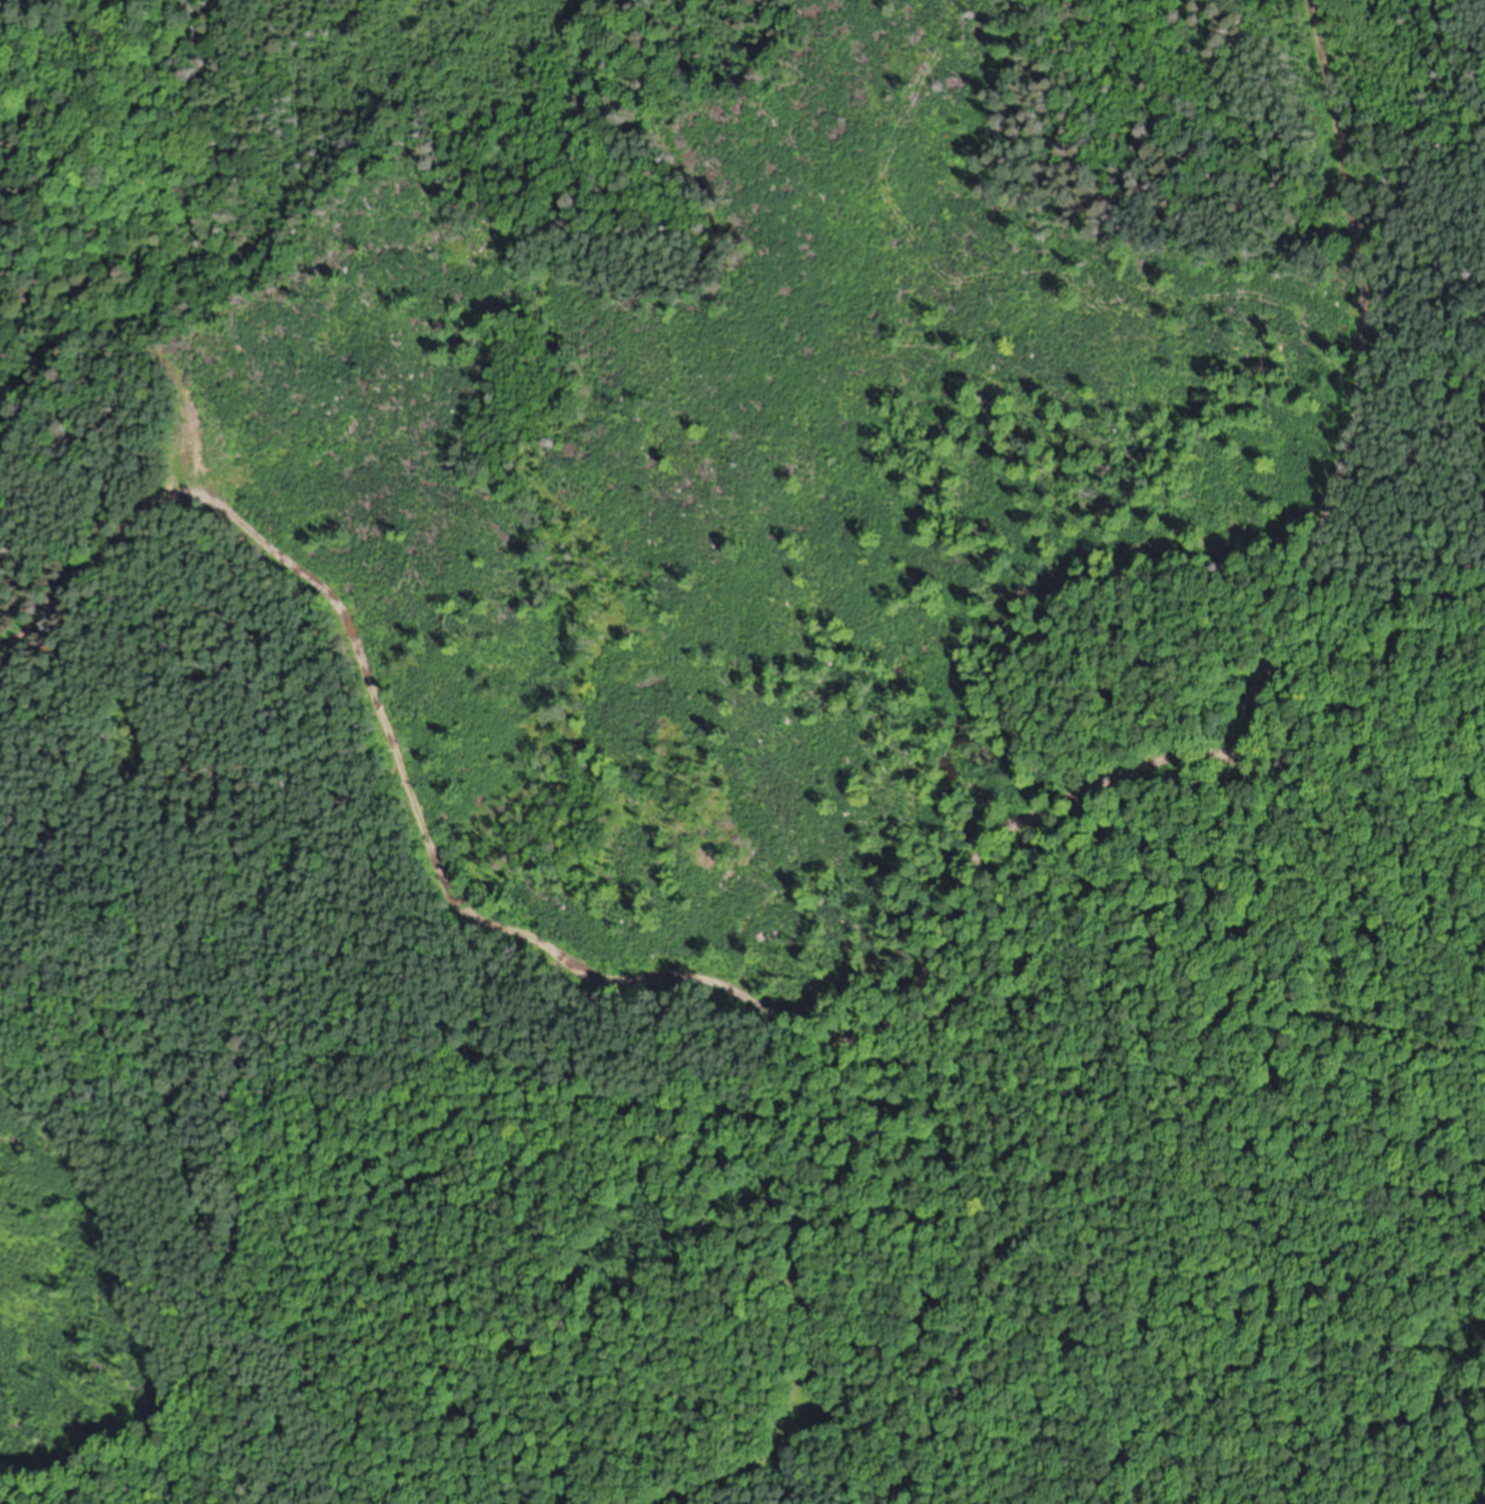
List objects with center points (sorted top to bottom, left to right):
road: (894, 1017)

